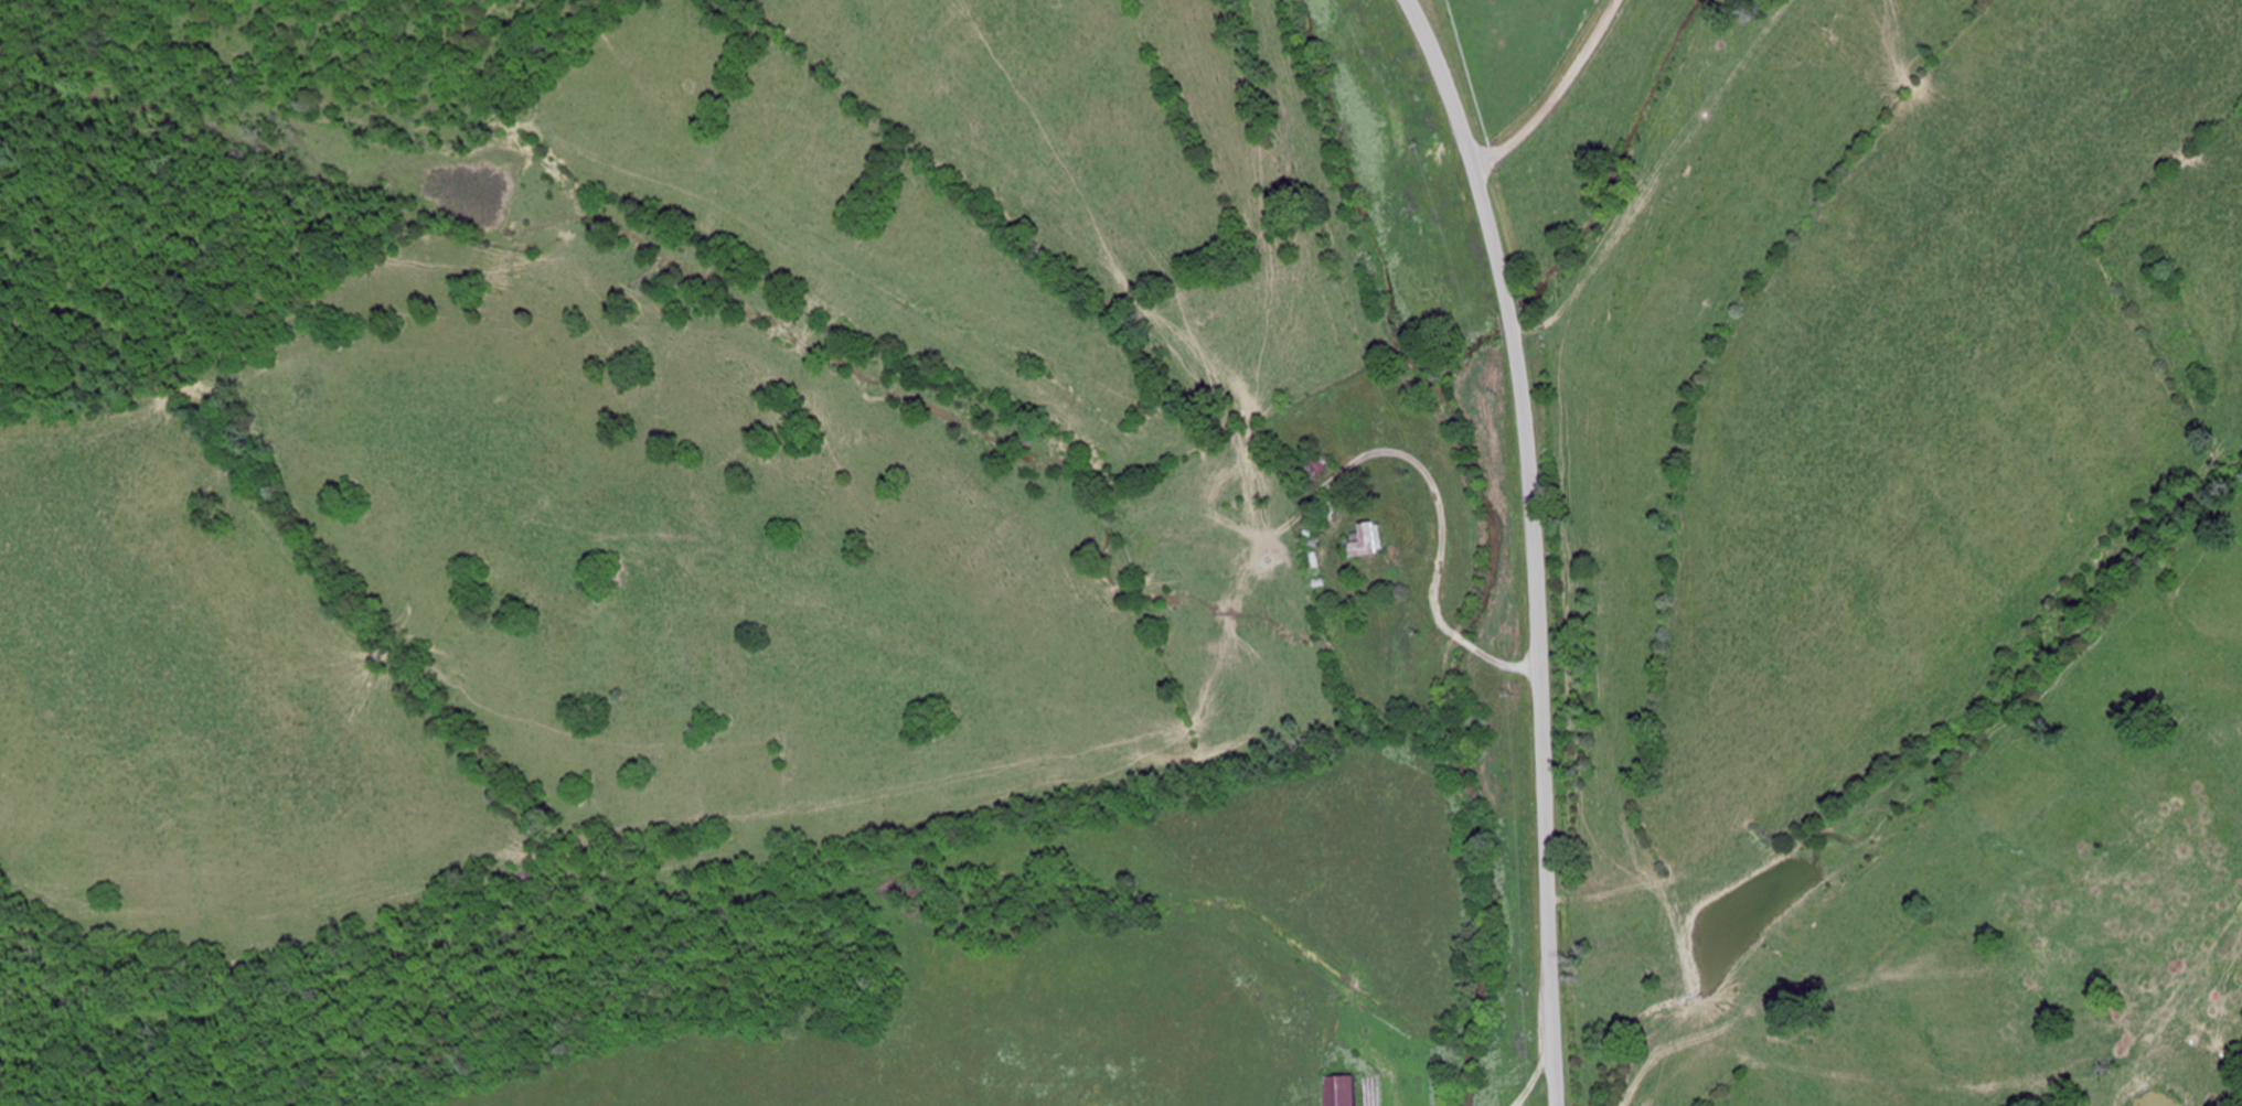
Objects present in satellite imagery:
building: (1311, 470)
building: (1162, 537)
building: (1365, 540)
road: (1531, 543)
building: (1339, 1091)

